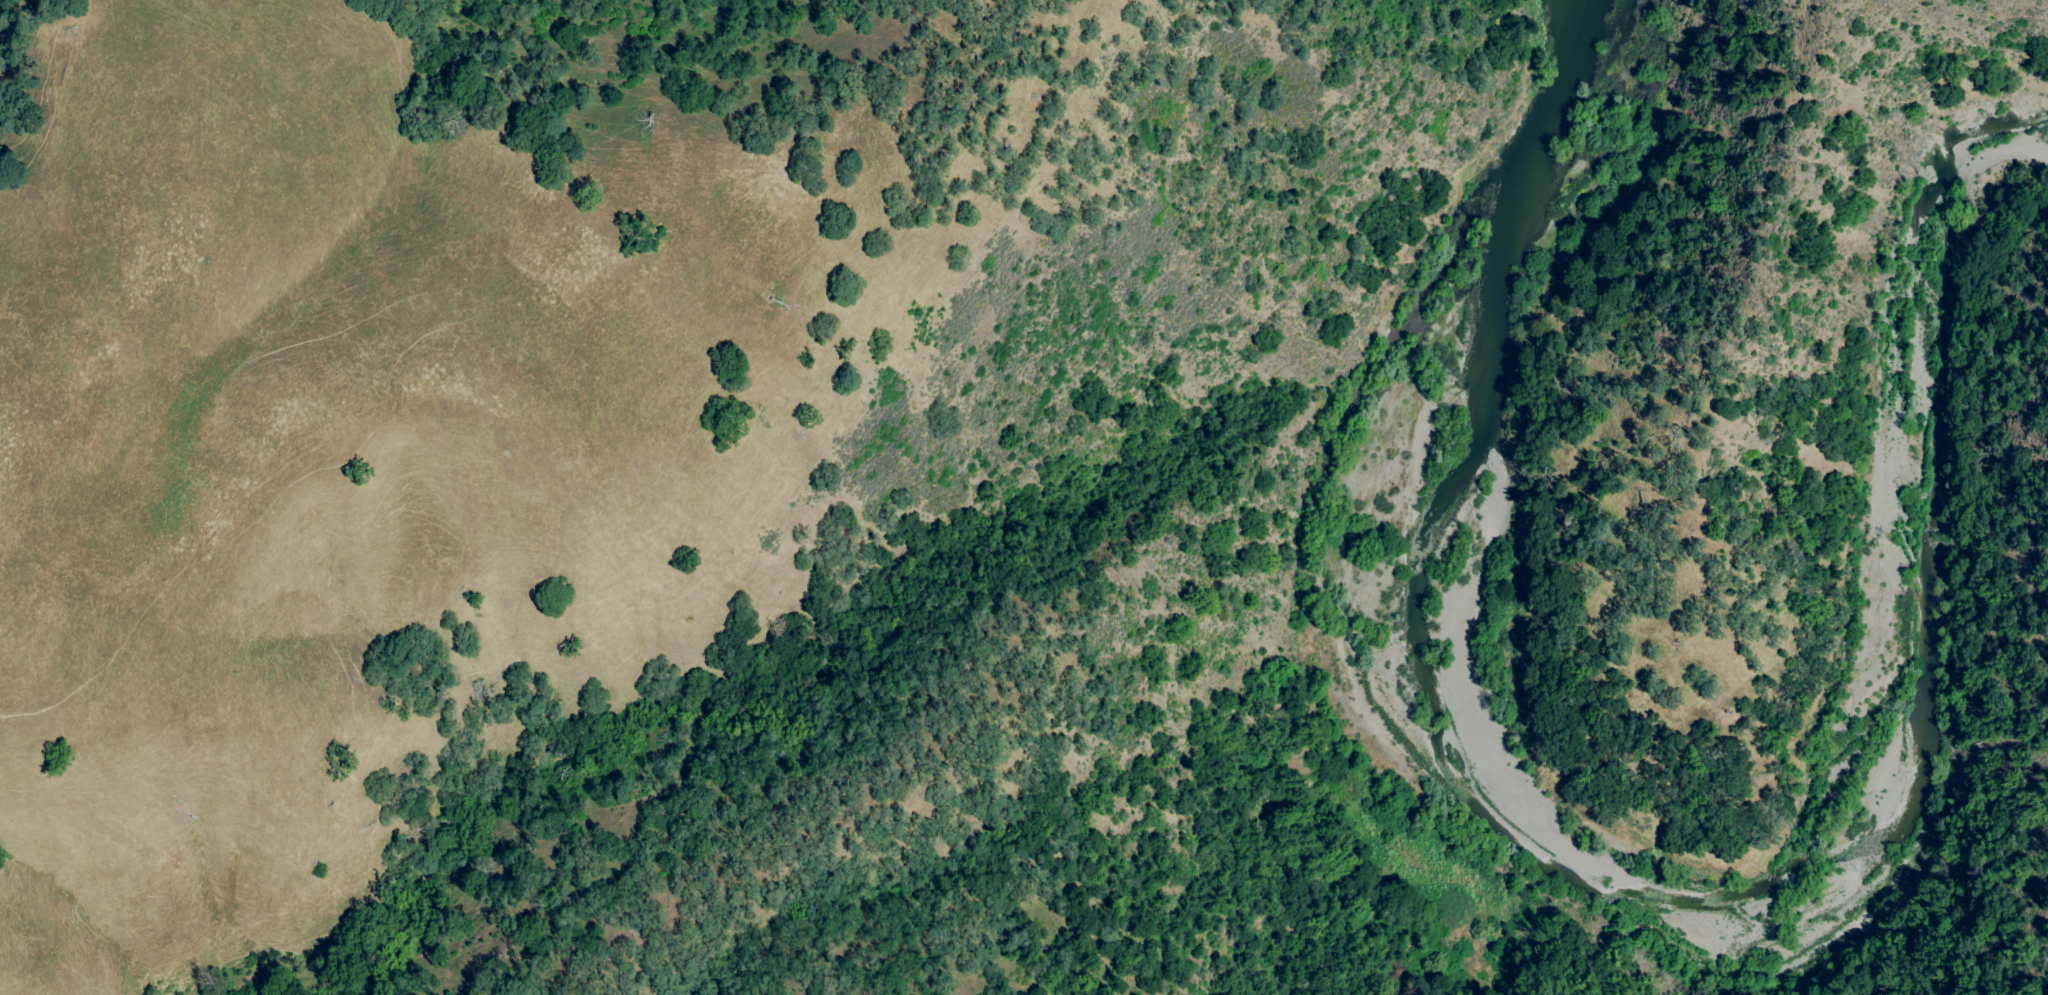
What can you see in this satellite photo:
river: (1884, 553)

